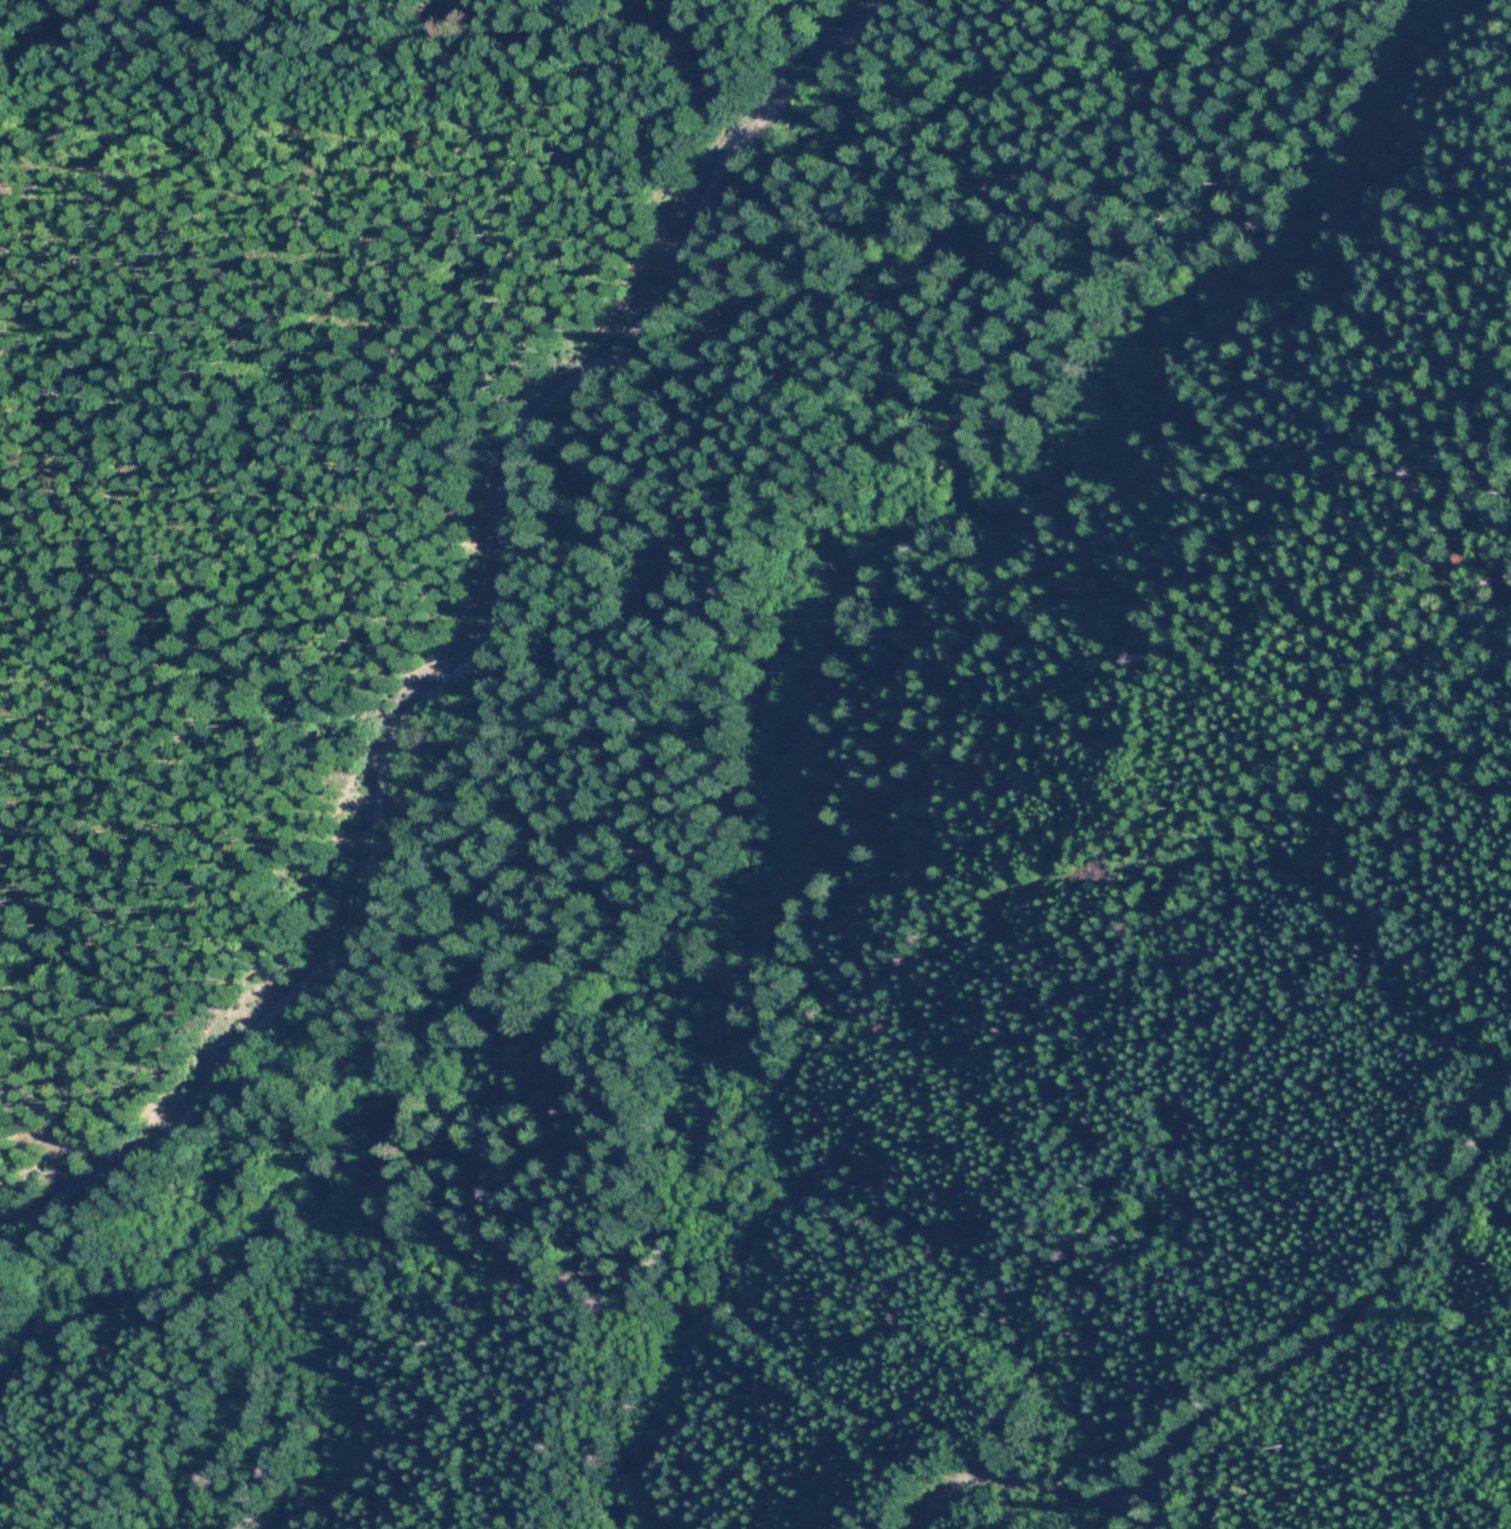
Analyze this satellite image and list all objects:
road: (433, 608)
road: (1234, 1307)

